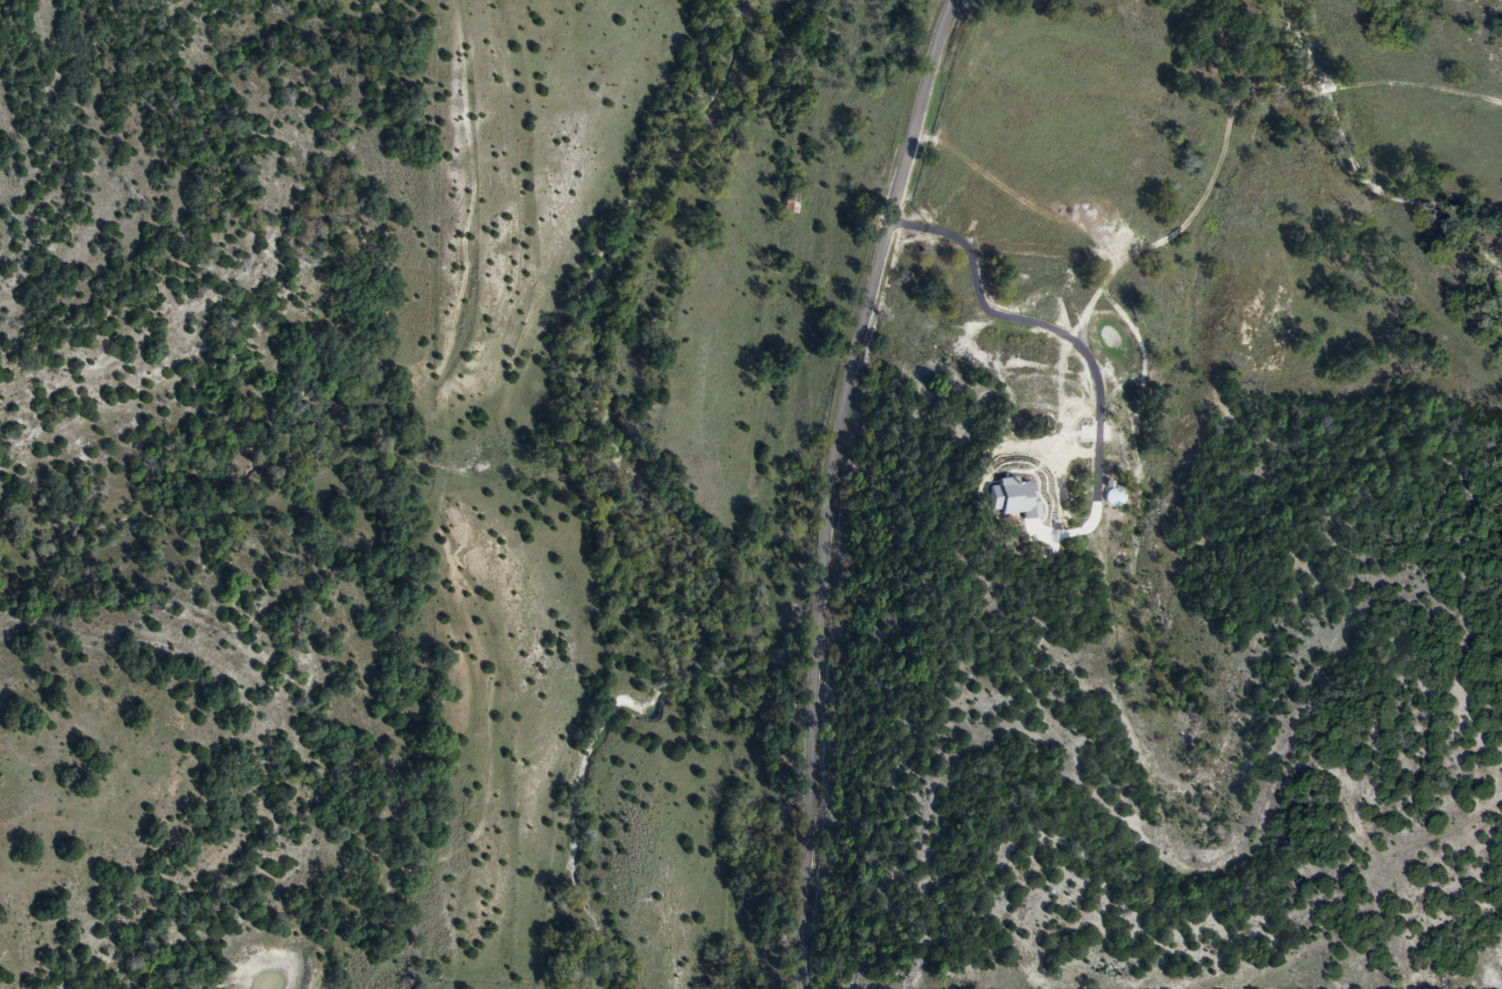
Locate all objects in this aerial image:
building: (788, 202)
road: (915, 226)
road: (1105, 276)
road: (833, 487)

